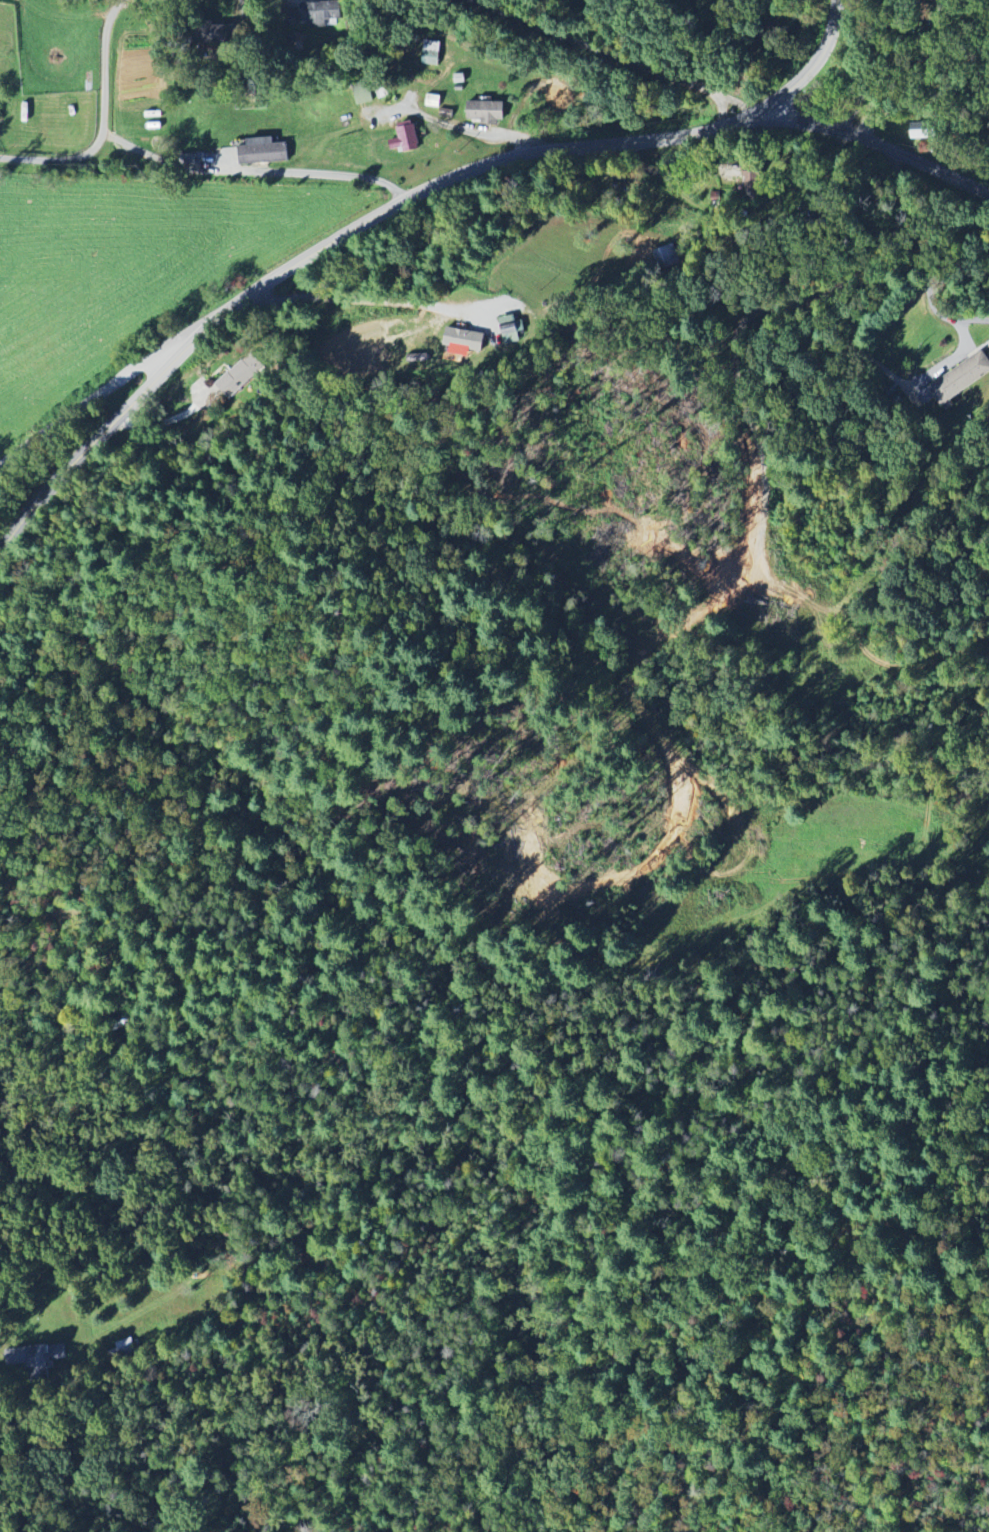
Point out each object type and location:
building: (321, 13)
building: (220, 34)
building: (431, 54)
road: (612, 58)
road: (873, 64)
building: (364, 96)
building: (486, 113)
road: (105, 121)
building: (926, 130)
building: (406, 139)
road: (876, 139)
building: (263, 152)
road: (254, 170)
building: (751, 181)
road: (394, 206)
road: (924, 251)
building: (665, 258)
road: (354, 298)
building: (513, 330)
building: (465, 340)
building: (240, 375)
building: (961, 379)
road: (80, 405)
building: (125, 1344)
building: (36, 1359)

